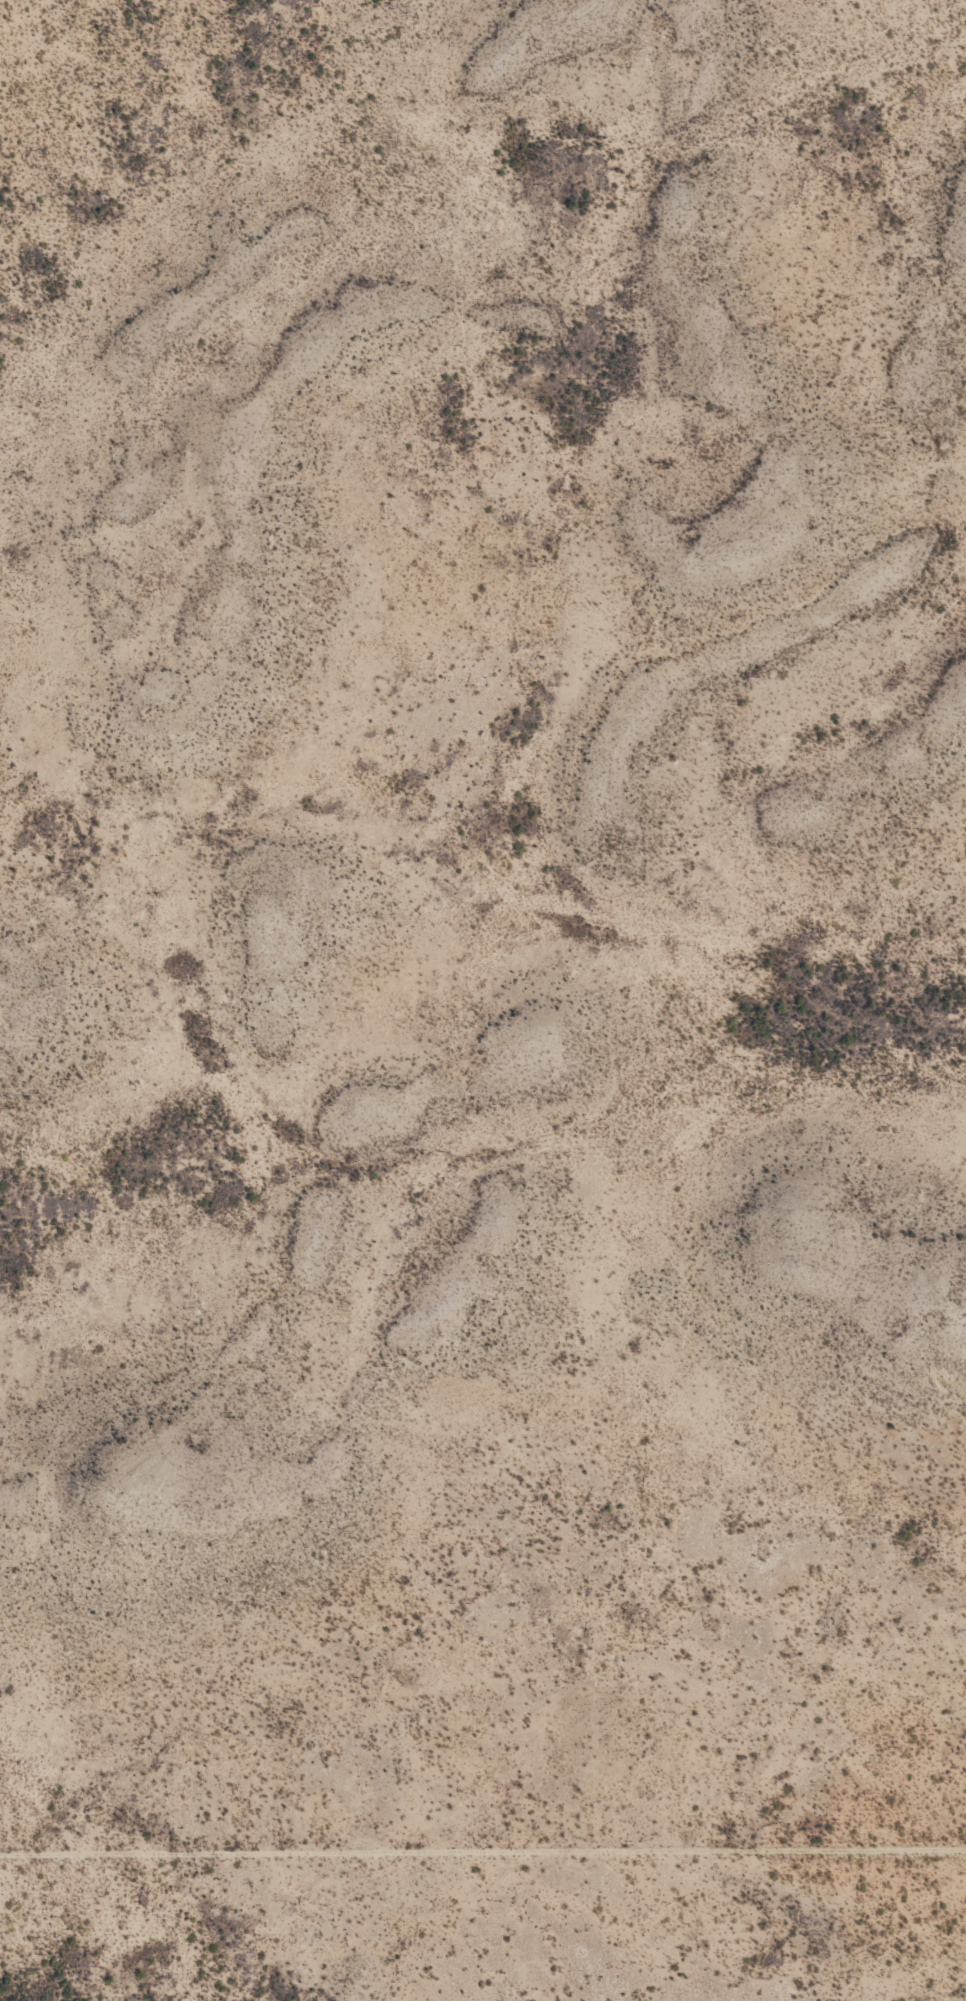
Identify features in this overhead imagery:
road: (482, 1777)

